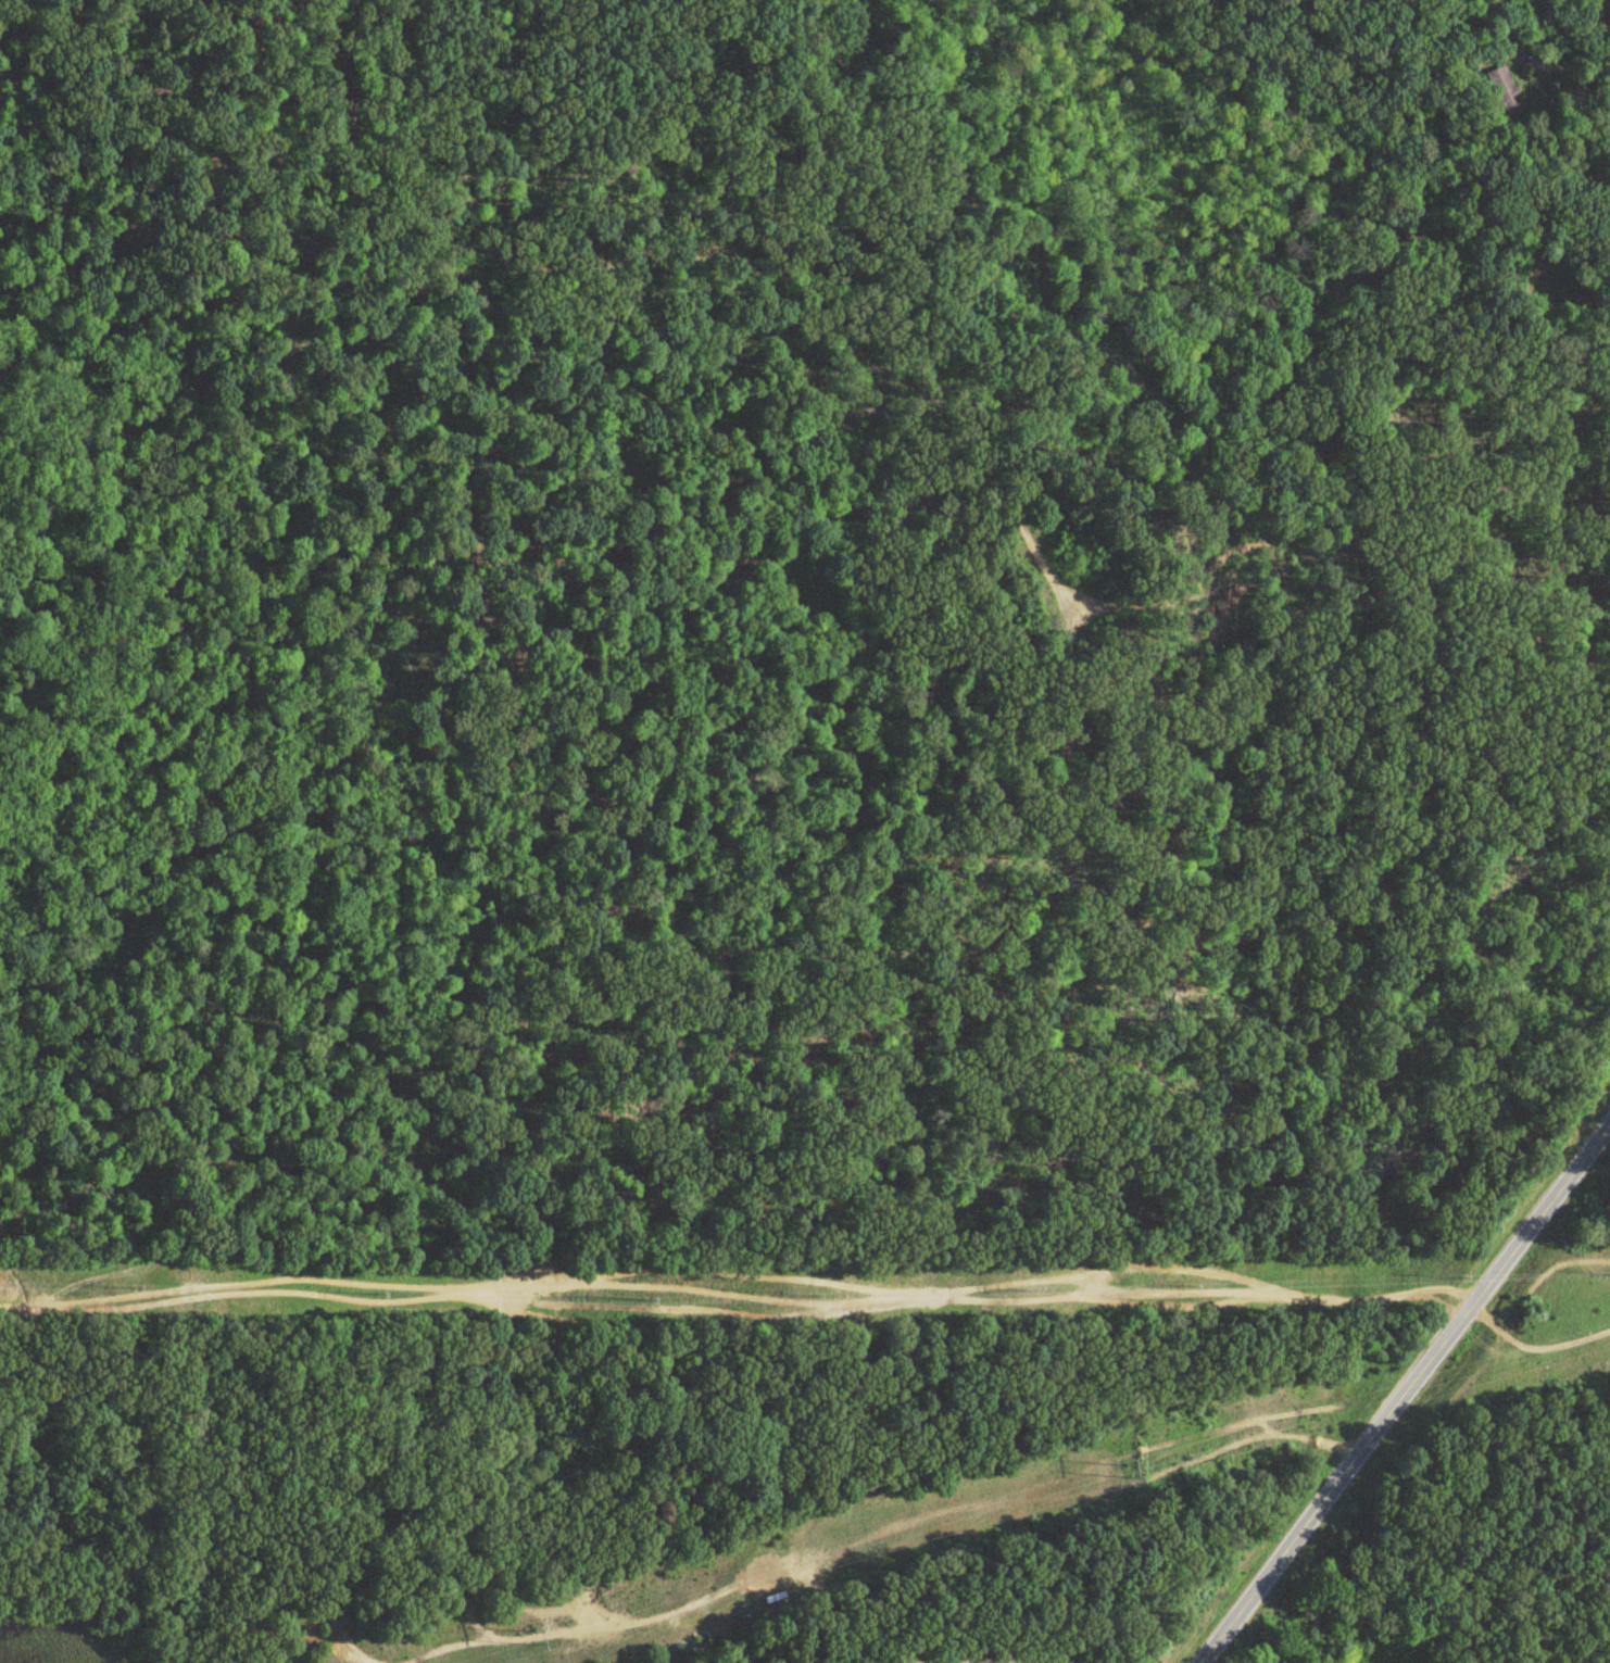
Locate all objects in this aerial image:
building: (1517, 88)
road: (1581, 104)
road: (1404, 1390)

